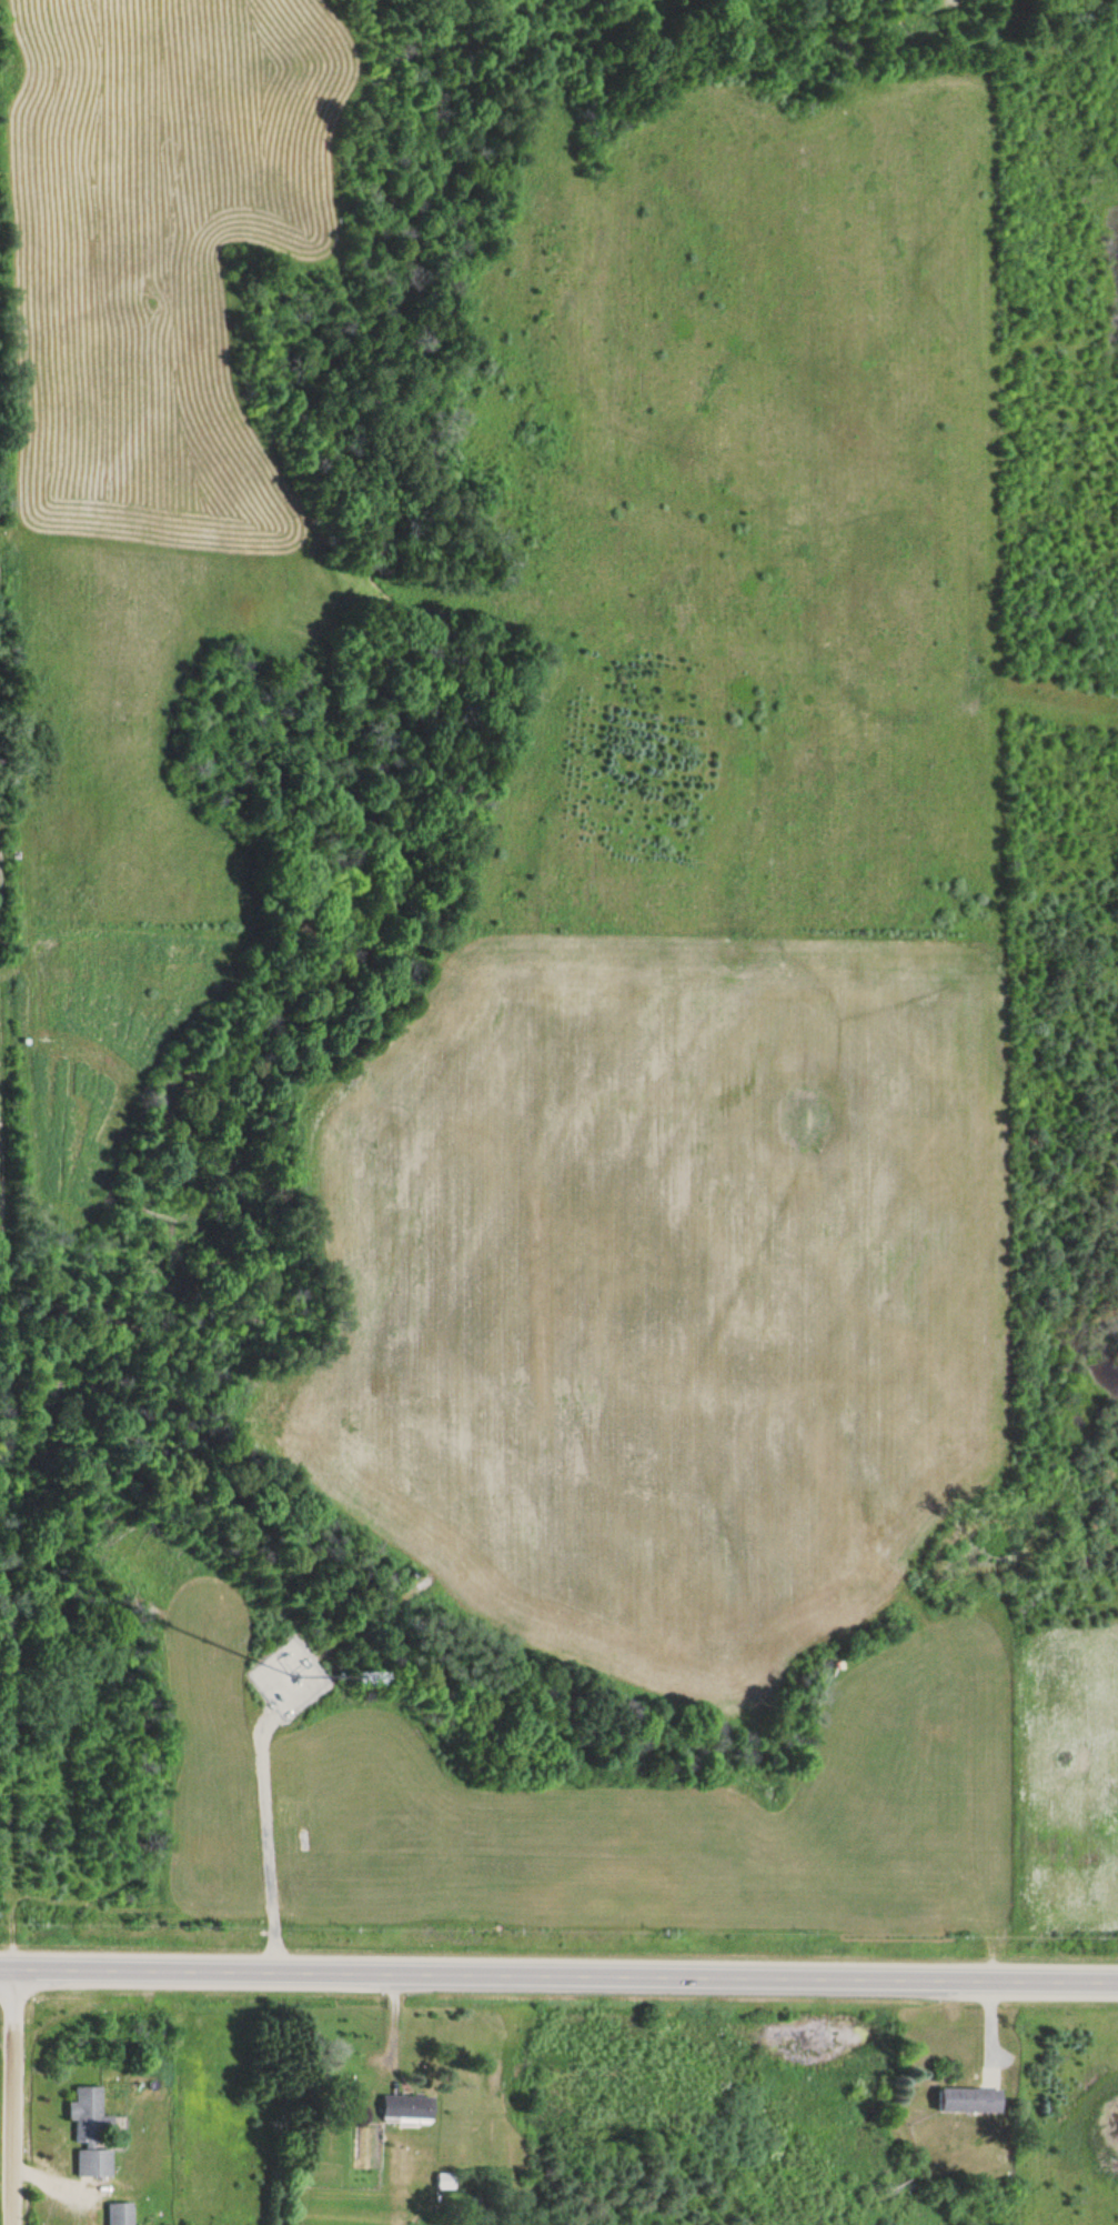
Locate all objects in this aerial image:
road: (4, 1670)
road: (558, 1974)
road: (10, 2096)
building: (963, 2102)
building: (401, 2106)
building: (82, 2112)
building: (442, 2154)
building: (89, 2162)
building: (440, 2179)
building: (117, 2218)

